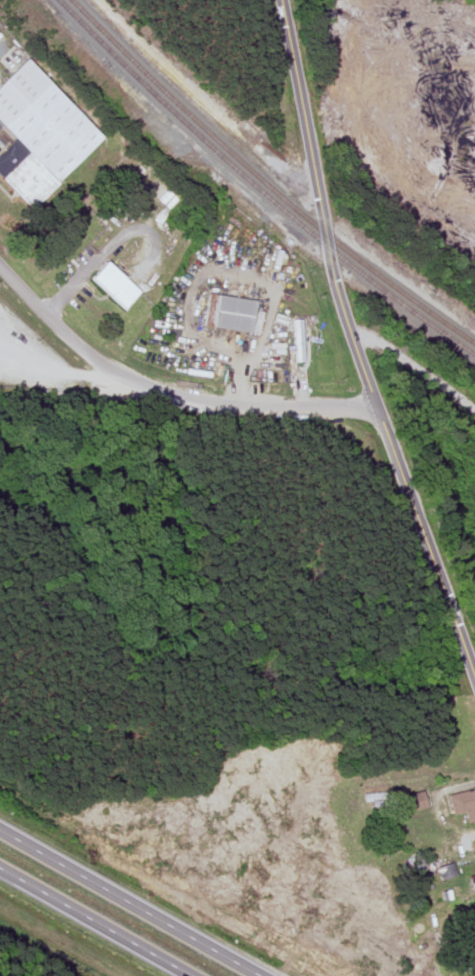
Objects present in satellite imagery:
railway: (195, 119)
railway: (189, 126)
building: (37, 134)
road: (106, 248)
road: (204, 273)
building: (112, 285)
railway: (398, 290)
railway: (399, 302)
building: (229, 314)
building: (295, 341)
road: (354, 346)
road: (417, 365)
road: (55, 368)
road: (163, 392)
building: (374, 797)
building: (410, 802)
building: (462, 803)
building: (473, 848)
building: (449, 870)
road: (133, 901)
building: (473, 914)
road: (90, 925)

